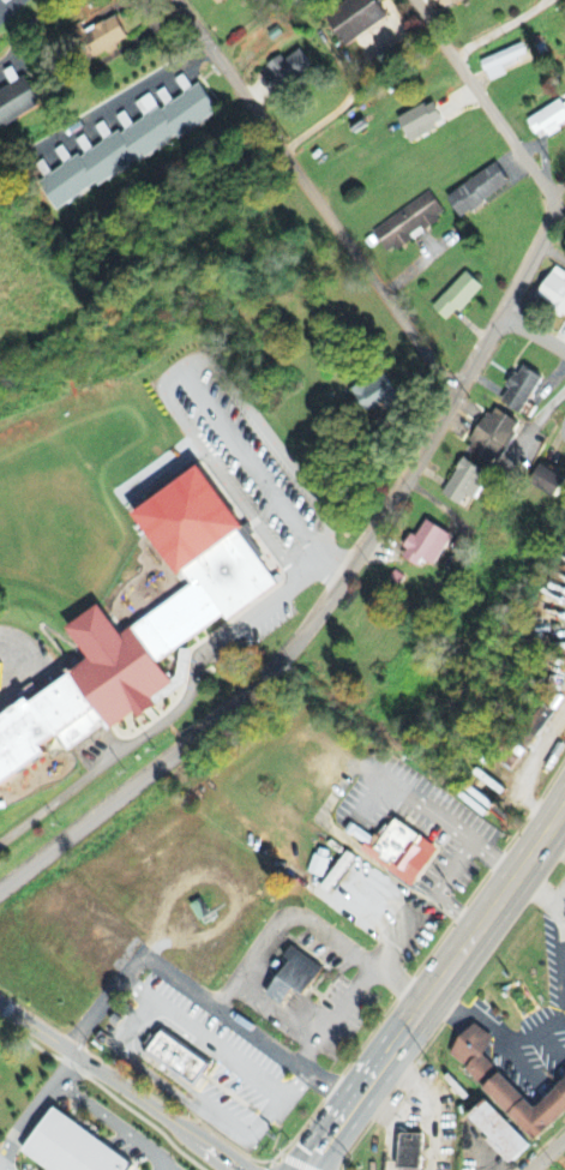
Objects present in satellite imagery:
building: (222, 2)
building: (446, 2)
building: (355, 20)
road: (493, 26)
building: (103, 38)
building: (500, 64)
building: (284, 73)
road: (485, 101)
building: (17, 103)
building: (420, 121)
building: (547, 121)
building: (127, 148)
building: (477, 192)
road: (317, 197)
building: (408, 224)
building: (554, 290)
building: (456, 299)
road: (533, 329)
building: (521, 392)
building: (374, 396)
building: (492, 439)
building: (547, 482)
building: (465, 484)
building: (426, 547)
road: (336, 584)
building: (143, 630)
building: (397, 848)
building: (317, 866)
building: (336, 872)
building: (293, 977)
road: (437, 983)
building: (178, 1058)
road: (121, 1085)
building: (507, 1087)
building: (497, 1132)
building: (70, 1148)
road: (545, 1151)
building: (408, 1152)

